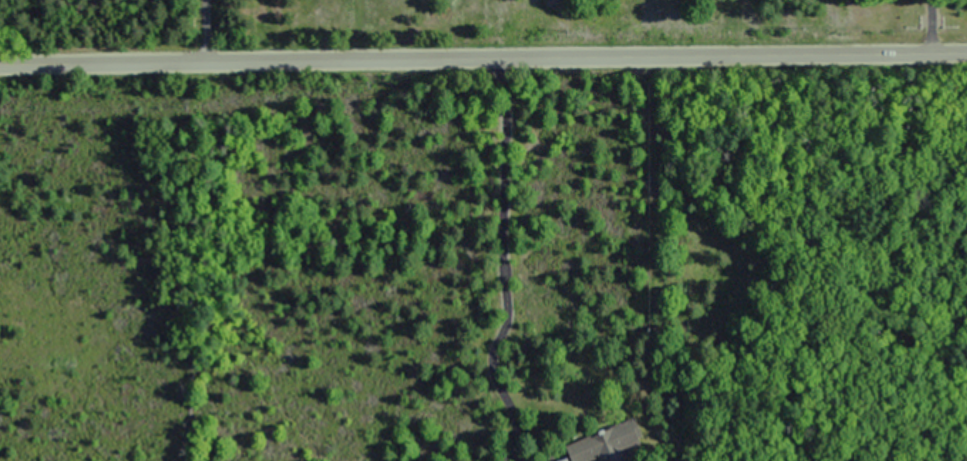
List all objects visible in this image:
road: (932, 27)
road: (205, 31)
road: (483, 59)
road: (501, 258)
building: (629, 439)

